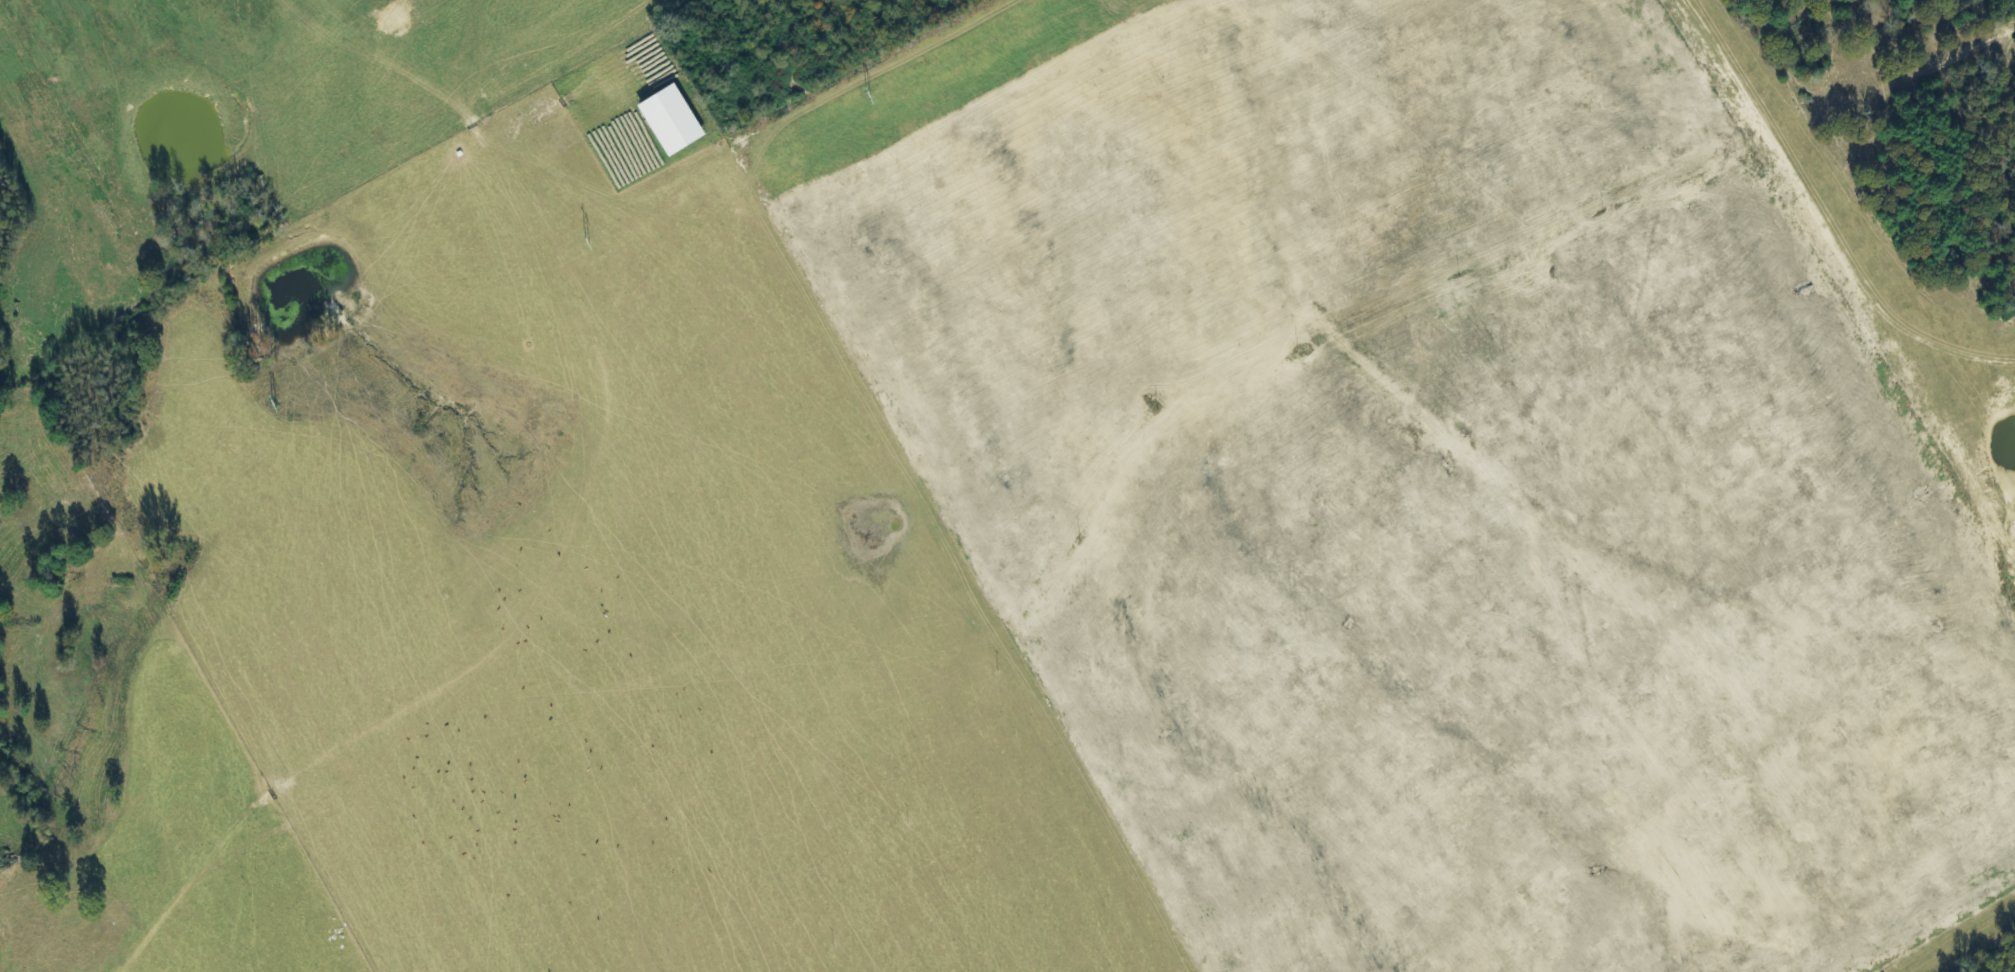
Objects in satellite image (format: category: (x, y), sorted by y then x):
power tower: (864, 94)
building: (671, 120)
power tower: (580, 243)
power tower: (274, 402)
road: (1947, 934)

